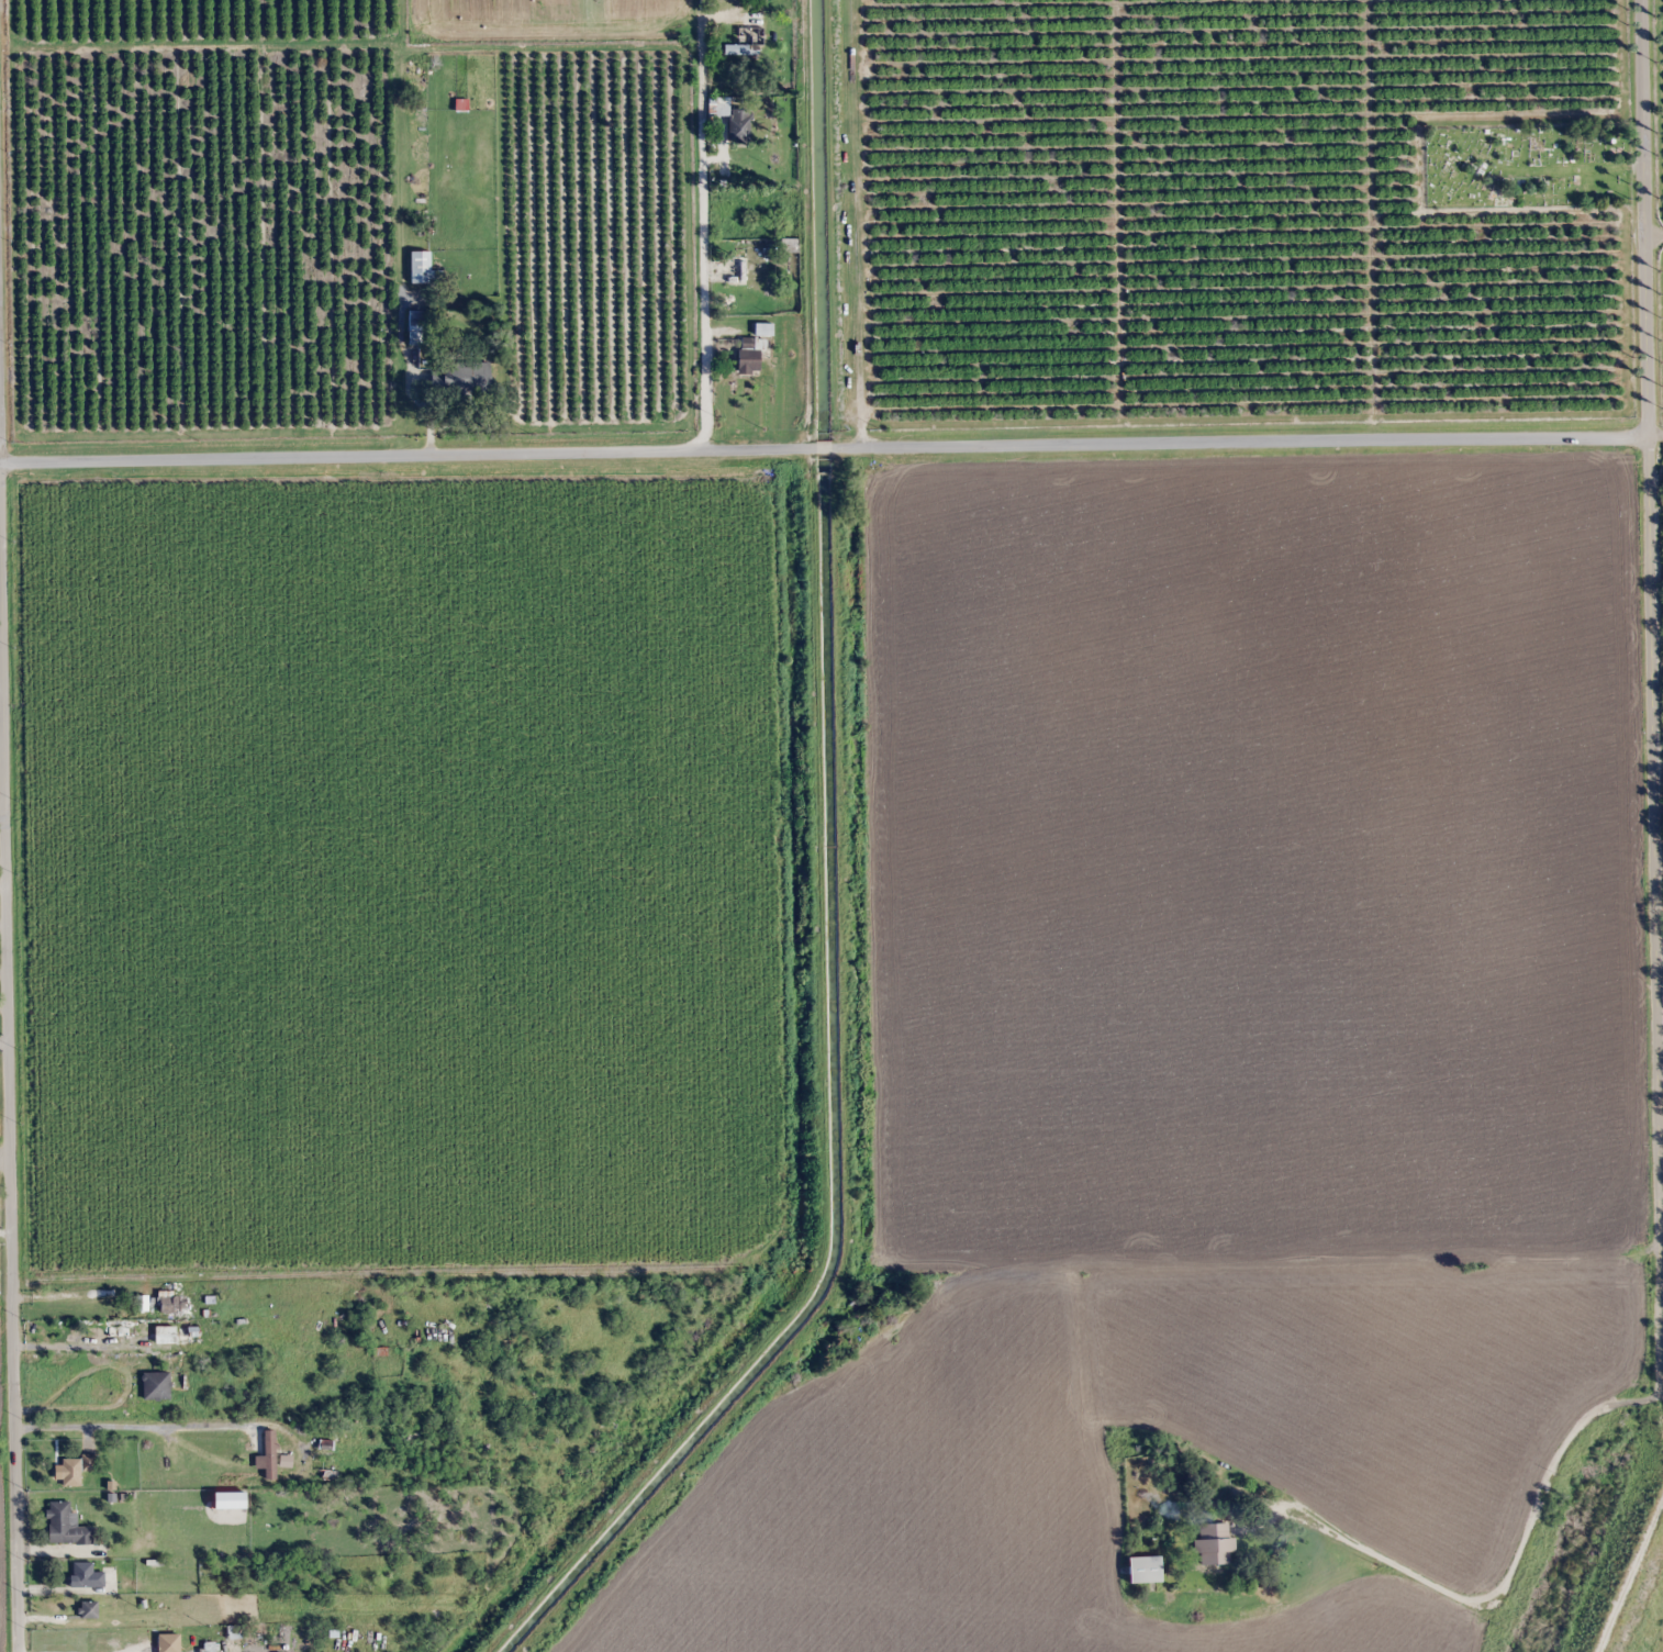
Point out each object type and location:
building: (743, 49)
building: (421, 57)
building: (733, 119)
park: (1526, 161)
road: (1652, 228)
building: (421, 267)
building: (416, 327)
building: (752, 351)
building: (469, 379)
road: (1654, 435)
road: (1238, 444)
road: (822, 450)
road: (408, 456)
road: (1649, 695)
road: (3, 974)
road: (3, 1012)
road: (3, 1042)
road: (9, 1120)
building: (172, 1303)
building: (69, 1310)
building: (278, 1328)
building: (122, 1333)
building: (157, 1385)
building: (324, 1456)
building: (282, 1458)
building: (76, 1469)
building: (193, 1481)
building: (66, 1526)
building: (1214, 1544)
road: (1630, 1566)
building: (1142, 1570)
building: (87, 1575)
building: (89, 1609)
building: (235, 1631)
building: (202, 1648)

